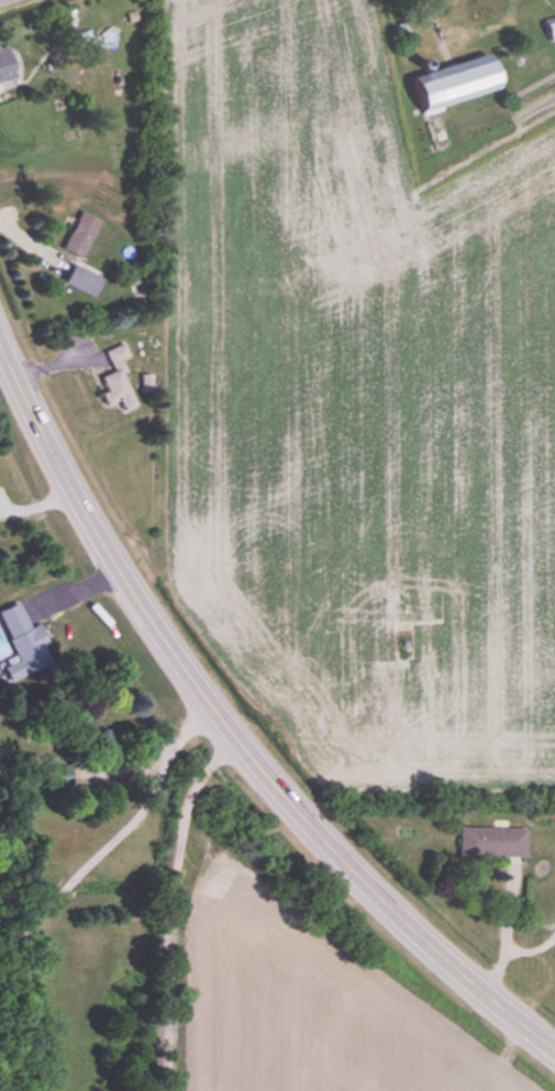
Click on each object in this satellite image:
road: (424, 7)
building: (551, 26)
building: (4, 68)
building: (456, 81)
building: (81, 232)
building: (82, 279)
building: (118, 378)
road: (37, 504)
building: (24, 642)
road: (232, 732)
road: (124, 830)
building: (491, 842)
road: (170, 904)

